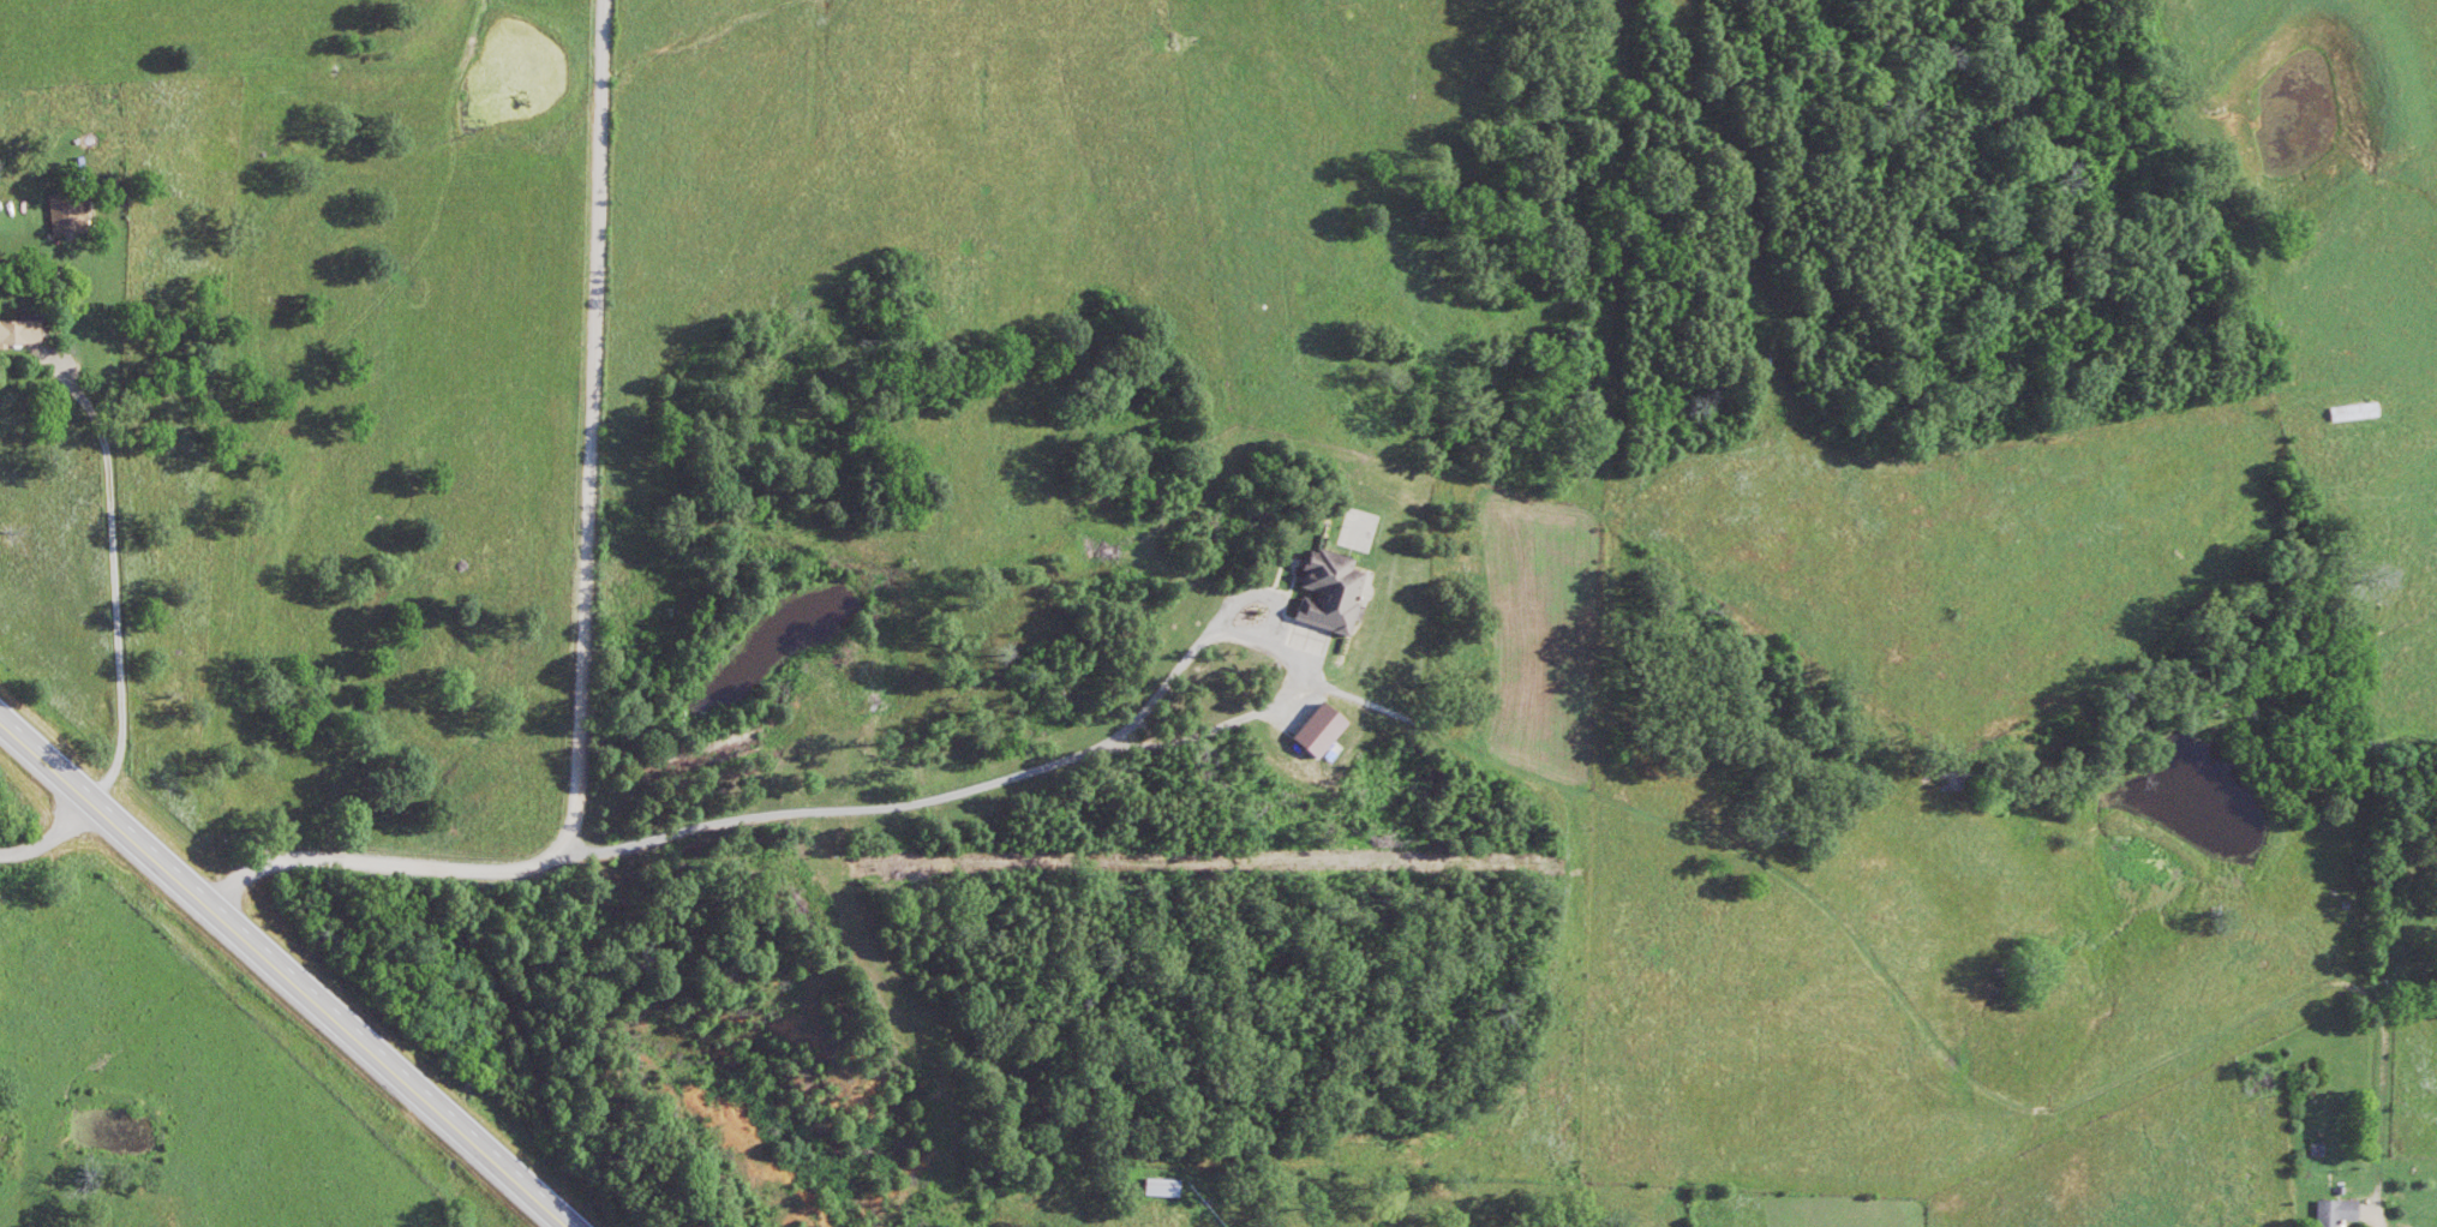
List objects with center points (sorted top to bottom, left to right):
building: (66, 217)
building: (20, 336)
building: (1355, 540)
building: (1331, 604)
road: (585, 611)
road: (115, 634)
road: (72, 816)
road: (68, 834)
road: (286, 971)
park: (2409, 989)
building: (1162, 1192)
building: (2336, 1215)

